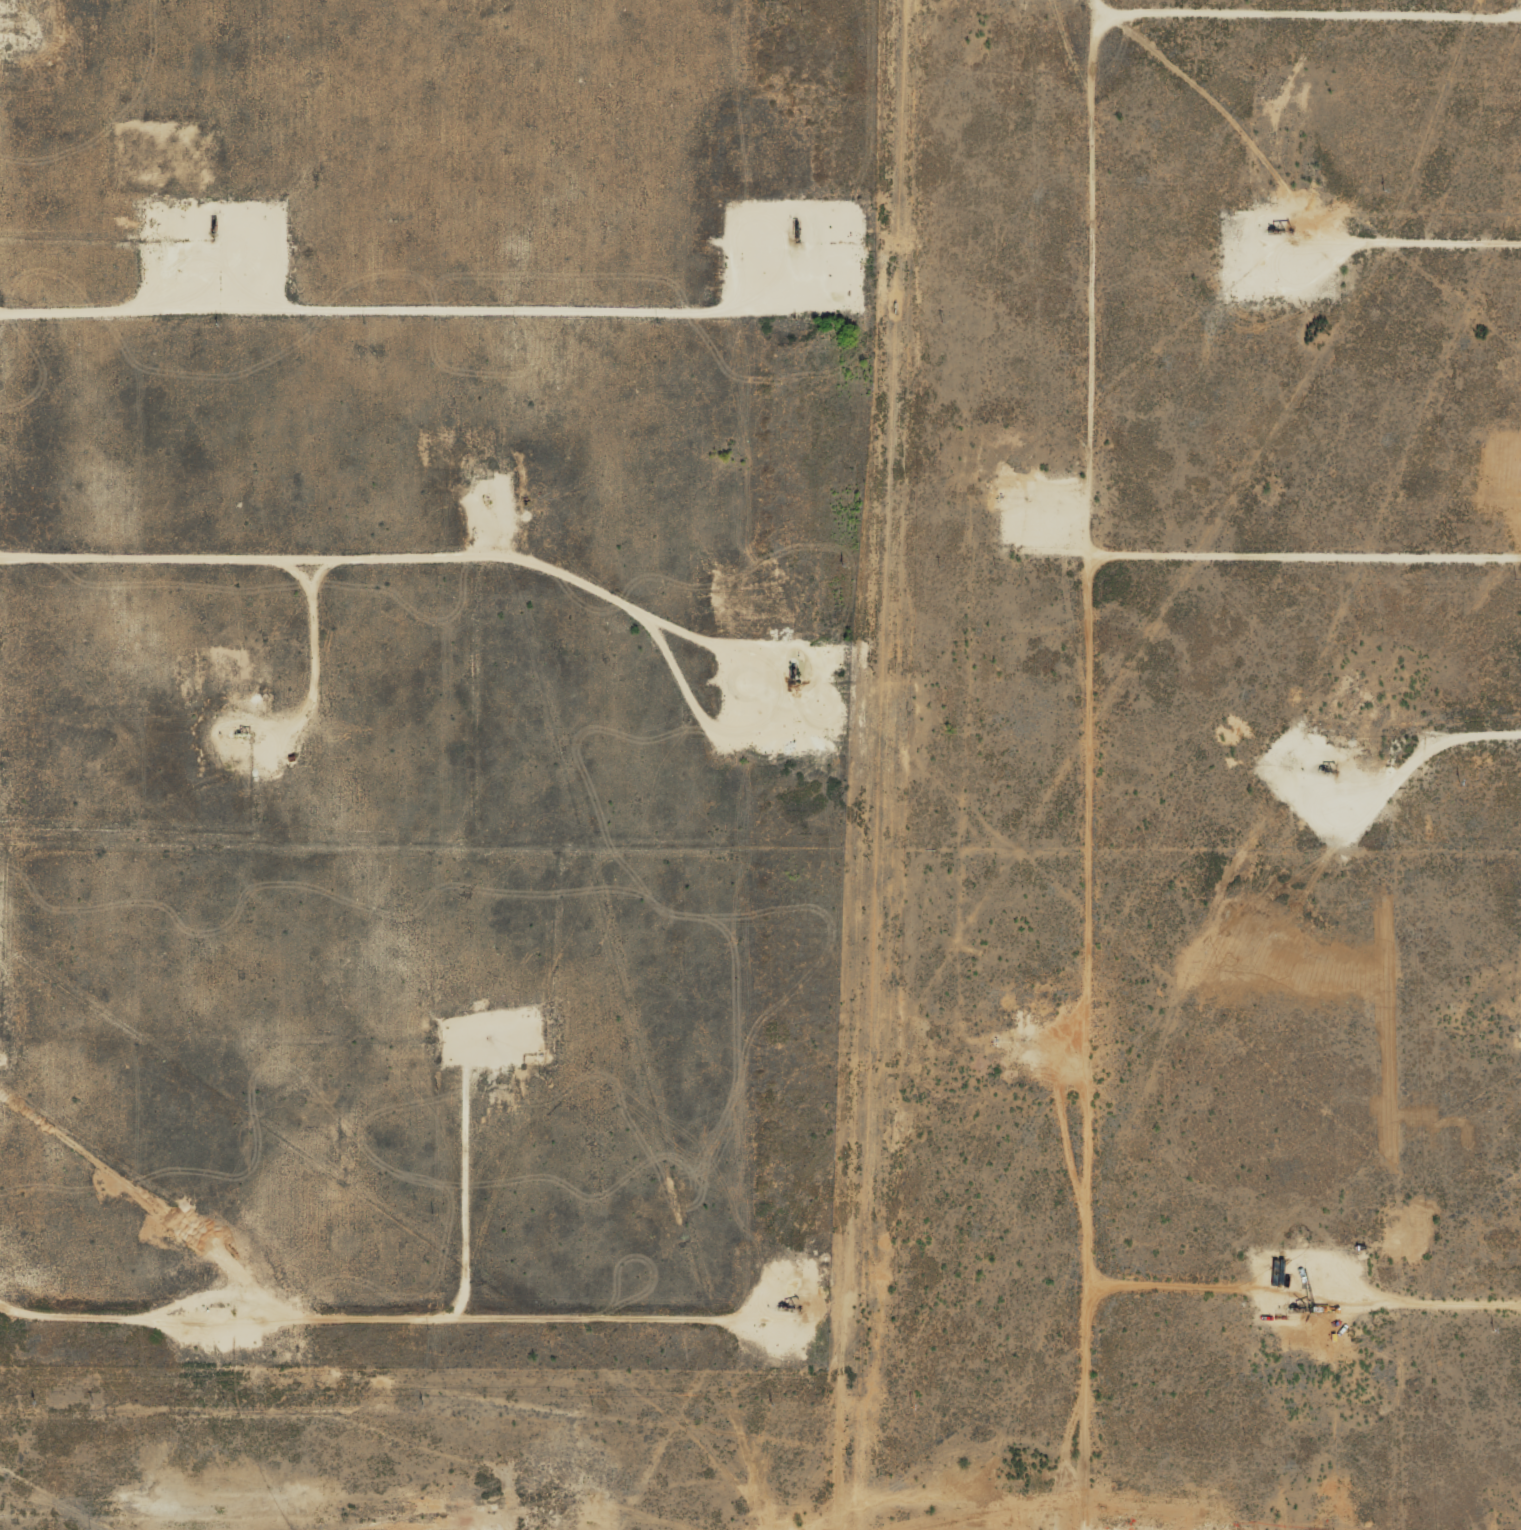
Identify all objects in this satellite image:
road: (195, 19)
road: (1304, 559)
road: (221, 584)
road: (1094, 590)
road: (215, 1063)
river: (178, 1127)

